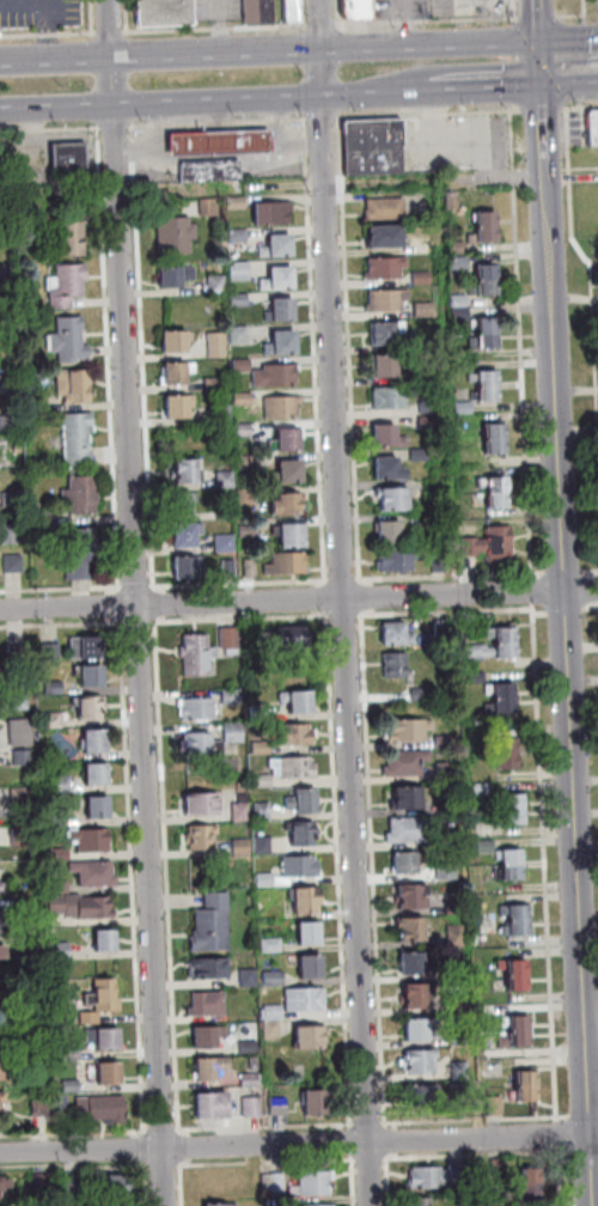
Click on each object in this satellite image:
parking lot: (216, 8)
road: (219, 8)
building: (359, 8)
traffic signals: (537, 8)
building: (291, 11)
road: (586, 11)
building: (163, 12)
building: (256, 12)
road: (336, 12)
parking lot: (42, 13)
road: (518, 13)
road: (55, 14)
road: (301, 14)
road: (94, 16)
road: (126, 16)
road: (573, 16)
road: (18, 17)
road: (542, 17)
road: (429, 20)
road: (537, 20)
road: (409, 22)
road: (268, 24)
road: (321, 24)
road: (220, 26)
road: (166, 29)
road: (110, 31)
road: (49, 33)
road: (220, 35)
road: (50, 36)
road: (304, 39)
traffic signals: (538, 41)
road: (568, 41)
traffic signals: (596, 41)
road: (517, 42)
road: (582, 45)
road: (268, 49)
road: (513, 62)
road: (541, 65)
road: (578, 72)
road: (509, 85)
road: (569, 85)
road: (579, 87)
traffic signals: (543, 89)
road: (487, 91)
road: (215, 102)
road: (581, 104)
road: (567, 108)
road: (544, 109)
road: (277, 112)
road: (432, 112)
road: (220, 114)
road: (324, 117)
road: (161, 123)
road: (220, 123)
building: (593, 124)
road: (117, 127)
road: (226, 127)
road: (50, 129)
building: (221, 140)
building: (376, 145)
road: (547, 152)
road: (218, 154)
building: (71, 156)
building: (213, 170)
road: (286, 183)
building: (450, 197)
building: (5, 200)
building: (238, 202)
building: (383, 206)
building: (212, 207)
building: (274, 211)
building: (30, 212)
building: (484, 225)
road: (574, 225)
building: (4, 232)
building: (177, 233)
building: (383, 233)
building: (238, 234)
building: (74, 238)
building: (280, 243)
building: (423, 243)
building: (454, 245)
building: (457, 261)
building: (384, 266)
building: (243, 270)
building: (6, 272)
building: (178, 274)
building: (420, 275)
building: (280, 276)
building: (484, 276)
building: (219, 282)
building: (68, 284)
building: (242, 298)
building: (385, 298)
building: (458, 300)
building: (422, 306)
building: (285, 307)
building: (459, 310)
building: (385, 331)
building: (483, 331)
building: (242, 334)
building: (71, 339)
building: (176, 339)
building: (283, 341)
road: (519, 341)
building: (420, 342)
building: (219, 343)
building: (7, 347)
road: (352, 348)
road: (317, 352)
road: (111, 357)
road: (145, 359)
building: (244, 364)
building: (384, 366)
building: (177, 371)
building: (277, 374)
building: (218, 383)
building: (486, 383)
building: (75, 384)
building: (388, 396)
building: (245, 397)
building: (39, 402)
building: (427, 404)
building: (460, 404)
building: (179, 406)
building: (282, 406)
building: (222, 413)
building: (8, 422)
building: (458, 426)
building: (244, 430)
building: (385, 434)
building: (493, 437)
building: (80, 438)
building: (291, 438)
building: (419, 451)
building: (246, 461)
building: (385, 467)
building: (191, 469)
building: (292, 469)
building: (227, 479)
building: (495, 489)
building: (84, 493)
building: (249, 495)
building: (390, 497)
building: (13, 498)
building: (183, 502)
building: (287, 502)
building: (227, 512)
building: (48, 517)
building: (433, 524)
building: (386, 529)
building: (249, 531)
building: (13, 532)
building: (188, 532)
building: (293, 534)
building: (498, 541)
building: (227, 542)
building: (470, 544)
building: (84, 552)
building: (392, 559)
building: (437, 561)
building: (16, 562)
building: (288, 562)
building: (190, 565)
building: (252, 567)
building: (231, 568)
road: (566, 572)
road: (592, 572)
road: (453, 577)
road: (344, 580)
road: (242, 583)
road: (139, 586)
road: (62, 589)
road: (530, 591)
road: (362, 597)
road: (328, 598)
road: (299, 599)
road: (138, 602)
road: (344, 603)
road: (158, 604)
road: (112, 605)
road: (592, 607)
road: (568, 609)
road: (446, 611)
road: (542, 613)
road: (347, 615)
road: (244, 619)
road: (139, 622)
road: (61, 625)
building: (439, 627)
building: (393, 632)
building: (232, 638)
building: (282, 638)
building: (475, 644)
building: (87, 646)
building: (48, 648)
building: (20, 653)
building: (197, 653)
building: (392, 663)
building: (474, 672)
building: (90, 674)
building: (50, 686)
building: (419, 692)
building: (233, 696)
building: (501, 696)
building: (300, 701)
building: (23, 702)
building: (89, 706)
building: (200, 708)
building: (262, 712)
road: (572, 712)
building: (54, 717)
building: (236, 727)
building: (405, 727)
building: (19, 730)
building: (297, 733)
building: (93, 739)
building: (200, 743)
building: (263, 748)
building: (505, 753)
building: (20, 755)
building: (404, 761)
building: (475, 765)
building: (294, 767)
building: (440, 767)
building: (94, 772)
building: (262, 780)
building: (56, 782)
building: (245, 786)
building: (405, 796)
building: (25, 797)
building: (306, 800)
building: (203, 803)
building: (482, 803)
building: (94, 804)
building: (512, 806)
building: (244, 809)
building: (264, 811)
building: (60, 816)
building: (405, 827)
building: (262, 832)
building: (305, 833)
building: (23, 835)
building: (203, 835)
building: (89, 837)
building: (266, 845)
building: (482, 845)
building: (244, 846)
building: (33, 849)
building: (55, 852)
building: (403, 860)
building: (509, 863)
road: (545, 863)
building: (301, 866)
building: (445, 869)
road: (341, 870)
building: (92, 871)
road: (169, 876)
road: (135, 877)
building: (267, 879)
building: (0, 882)
building: (1, 885)
building: (409, 894)
building: (309, 899)
building: (77, 902)
building: (32, 904)
building: (450, 904)
building: (515, 919)
building: (214, 924)
building: (409, 927)
building: (310, 932)
building: (454, 933)
building: (103, 938)
building: (35, 944)
building: (273, 944)
building: (1, 949)
building: (62, 951)
road: (379, 961)
building: (409, 961)
building: (313, 966)
building: (213, 968)
building: (453, 969)
building: (514, 973)
building: (250, 977)
building: (275, 977)
building: (413, 994)
building: (306, 999)
building: (104, 1000)
building: (209, 1004)
building: (275, 1012)
building: (414, 1027)
building: (273, 1029)
building: (513, 1029)
building: (209, 1036)
building: (105, 1037)
building: (311, 1037)
building: (456, 1037)
building: (2, 1038)
building: (250, 1047)
building: (73, 1054)
building: (417, 1060)
building: (255, 1062)
building: (210, 1067)
building: (459, 1067)
building: (5, 1068)
building: (106, 1072)
building: (251, 1079)
building: (524, 1083)
building: (1, 1094)
building: (417, 1094)
building: (0, 1102)
building: (317, 1102)
building: (493, 1103)
building: (41, 1104)
building: (279, 1105)
building: (213, 1107)
building: (252, 1107)
building: (103, 1108)
road: (585, 1116)
road: (370, 1125)
road: (385, 1125)
road: (267, 1127)
road: (396, 1127)
road: (163, 1131)
road: (73, 1134)
road: (561, 1134)
road: (397, 1140)
road: (354, 1143)
road: (594, 1143)
road: (295, 1144)
road: (147, 1146)
road: (183, 1149)
road: (398, 1155)
road: (472, 1155)
road: (371, 1159)
road: (310, 1161)
road: (256, 1163)
road: (214, 1164)
road: (165, 1165)
road: (74, 1169)
building: (501, 1169)
building: (439, 1175)
road: (561, 1176)
road: (355, 1181)
building: (280, 1182)
building: (317, 1182)
road: (390, 1182)
building: (5, 1183)
building: (44, 1183)
road: (147, 1183)
building: (533, 1183)
road: (184, 1184)
building: (120, 1187)
building: (75, 1188)
building: (285, 1202)
building: (423, 1202)
building: (117, 1205)
building: (219, 1205)
building: (324, 1205)

